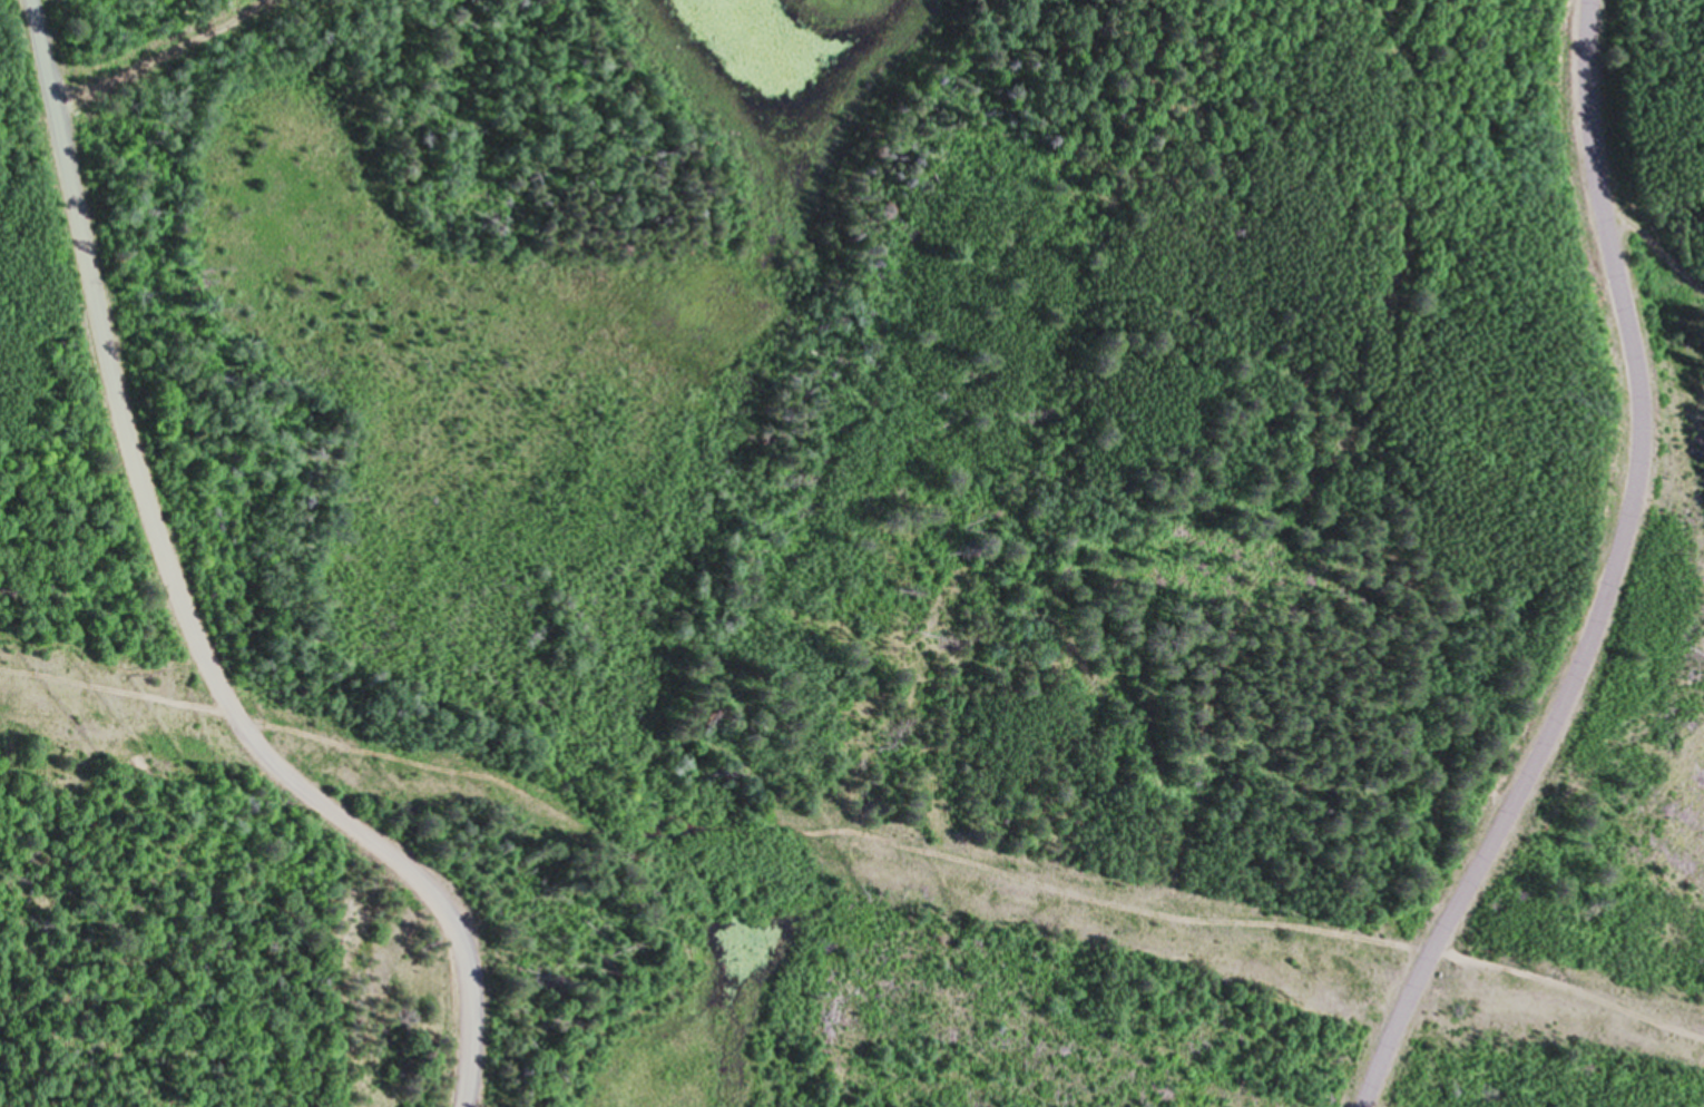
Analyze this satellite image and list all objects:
road: (1605, 578)
road: (176, 598)
road: (853, 833)

